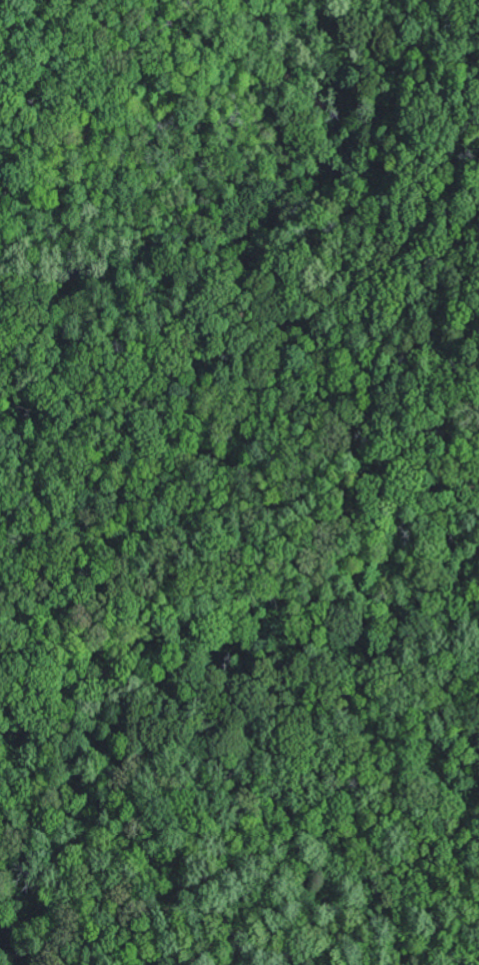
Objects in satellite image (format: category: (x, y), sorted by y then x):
road: (308, 281)

